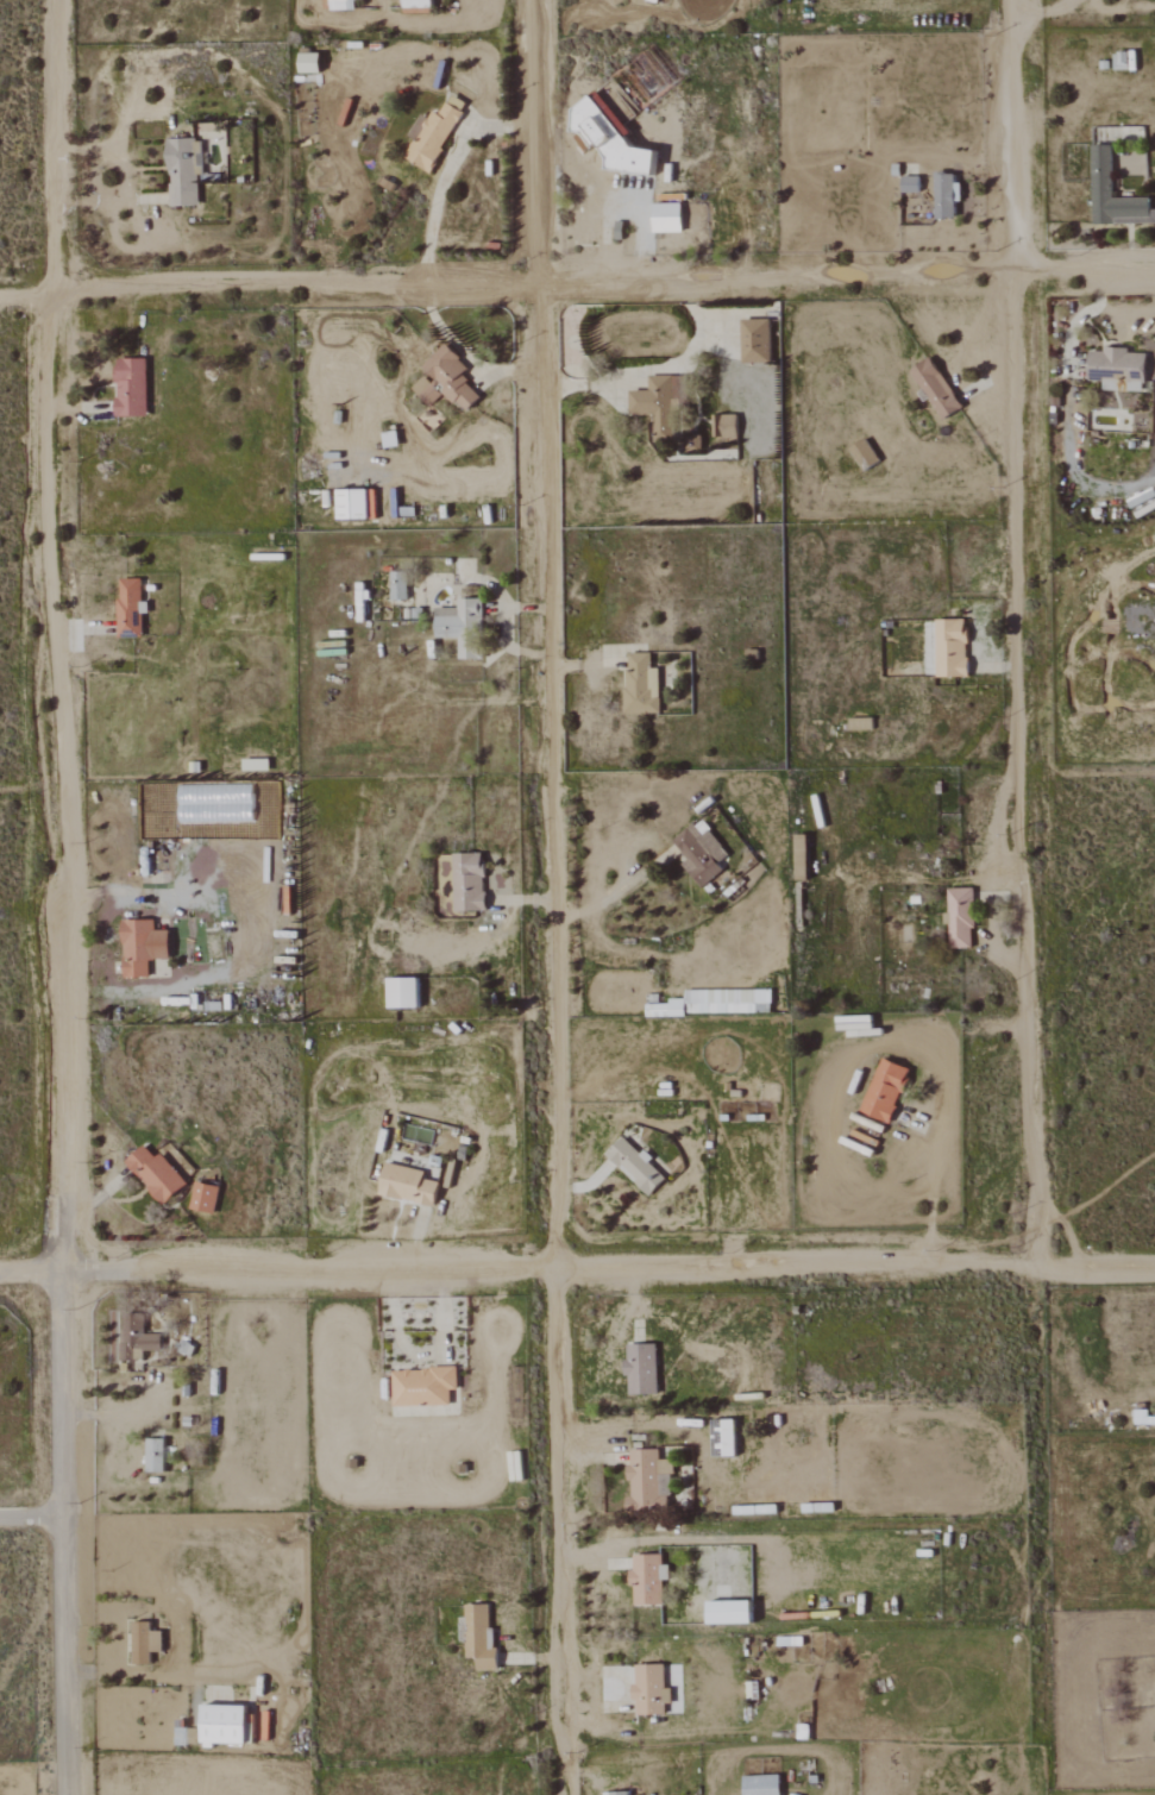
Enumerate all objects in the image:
building: (416, 4)
building: (341, 5)
road: (1038, 14)
building: (309, 62)
building: (432, 134)
building: (609, 138)
road: (962, 164)
building: (182, 171)
building: (1101, 171)
road: (446, 175)
building: (946, 195)
road: (106, 200)
building: (666, 216)
road: (641, 230)
road: (1130, 245)
road: (577, 283)
road: (1082, 314)
road: (979, 329)
building: (755, 340)
road: (464, 354)
building: (1118, 369)
road: (655, 370)
building: (451, 377)
building: (131, 387)
building: (936, 388)
building: (724, 426)
building: (864, 454)
building: (352, 503)
building: (398, 585)
road: (59, 597)
building: (130, 608)
building: (460, 626)
road: (506, 628)
road: (550, 634)
road: (1022, 634)
building: (952, 647)
road: (586, 660)
building: (641, 684)
road: (31, 787)
building: (701, 853)
building: (802, 865)
building: (469, 881)
road: (615, 896)
building: (960, 918)
building: (142, 947)
building: (403, 993)
building: (717, 1003)
building: (886, 1091)
road: (940, 1111)
building: (635, 1166)
building: (155, 1174)
building: (408, 1185)
building: (203, 1198)
road: (62, 1234)
road: (642, 1269)
road: (31, 1272)
road: (96, 1272)
building: (136, 1338)
road: (423, 1355)
building: (641, 1368)
building: (423, 1386)
building: (728, 1437)
building: (155, 1455)
building: (646, 1479)
road: (32, 1517)
road: (65, 1532)
road: (564, 1532)
road: (597, 1563)
building: (648, 1579)
building: (729, 1611)
building: (479, 1636)
building: (144, 1643)
road: (150, 1672)
building: (651, 1689)
building: (224, 1724)
road: (624, 1772)
building: (761, 1784)
building: (616, 1793)

